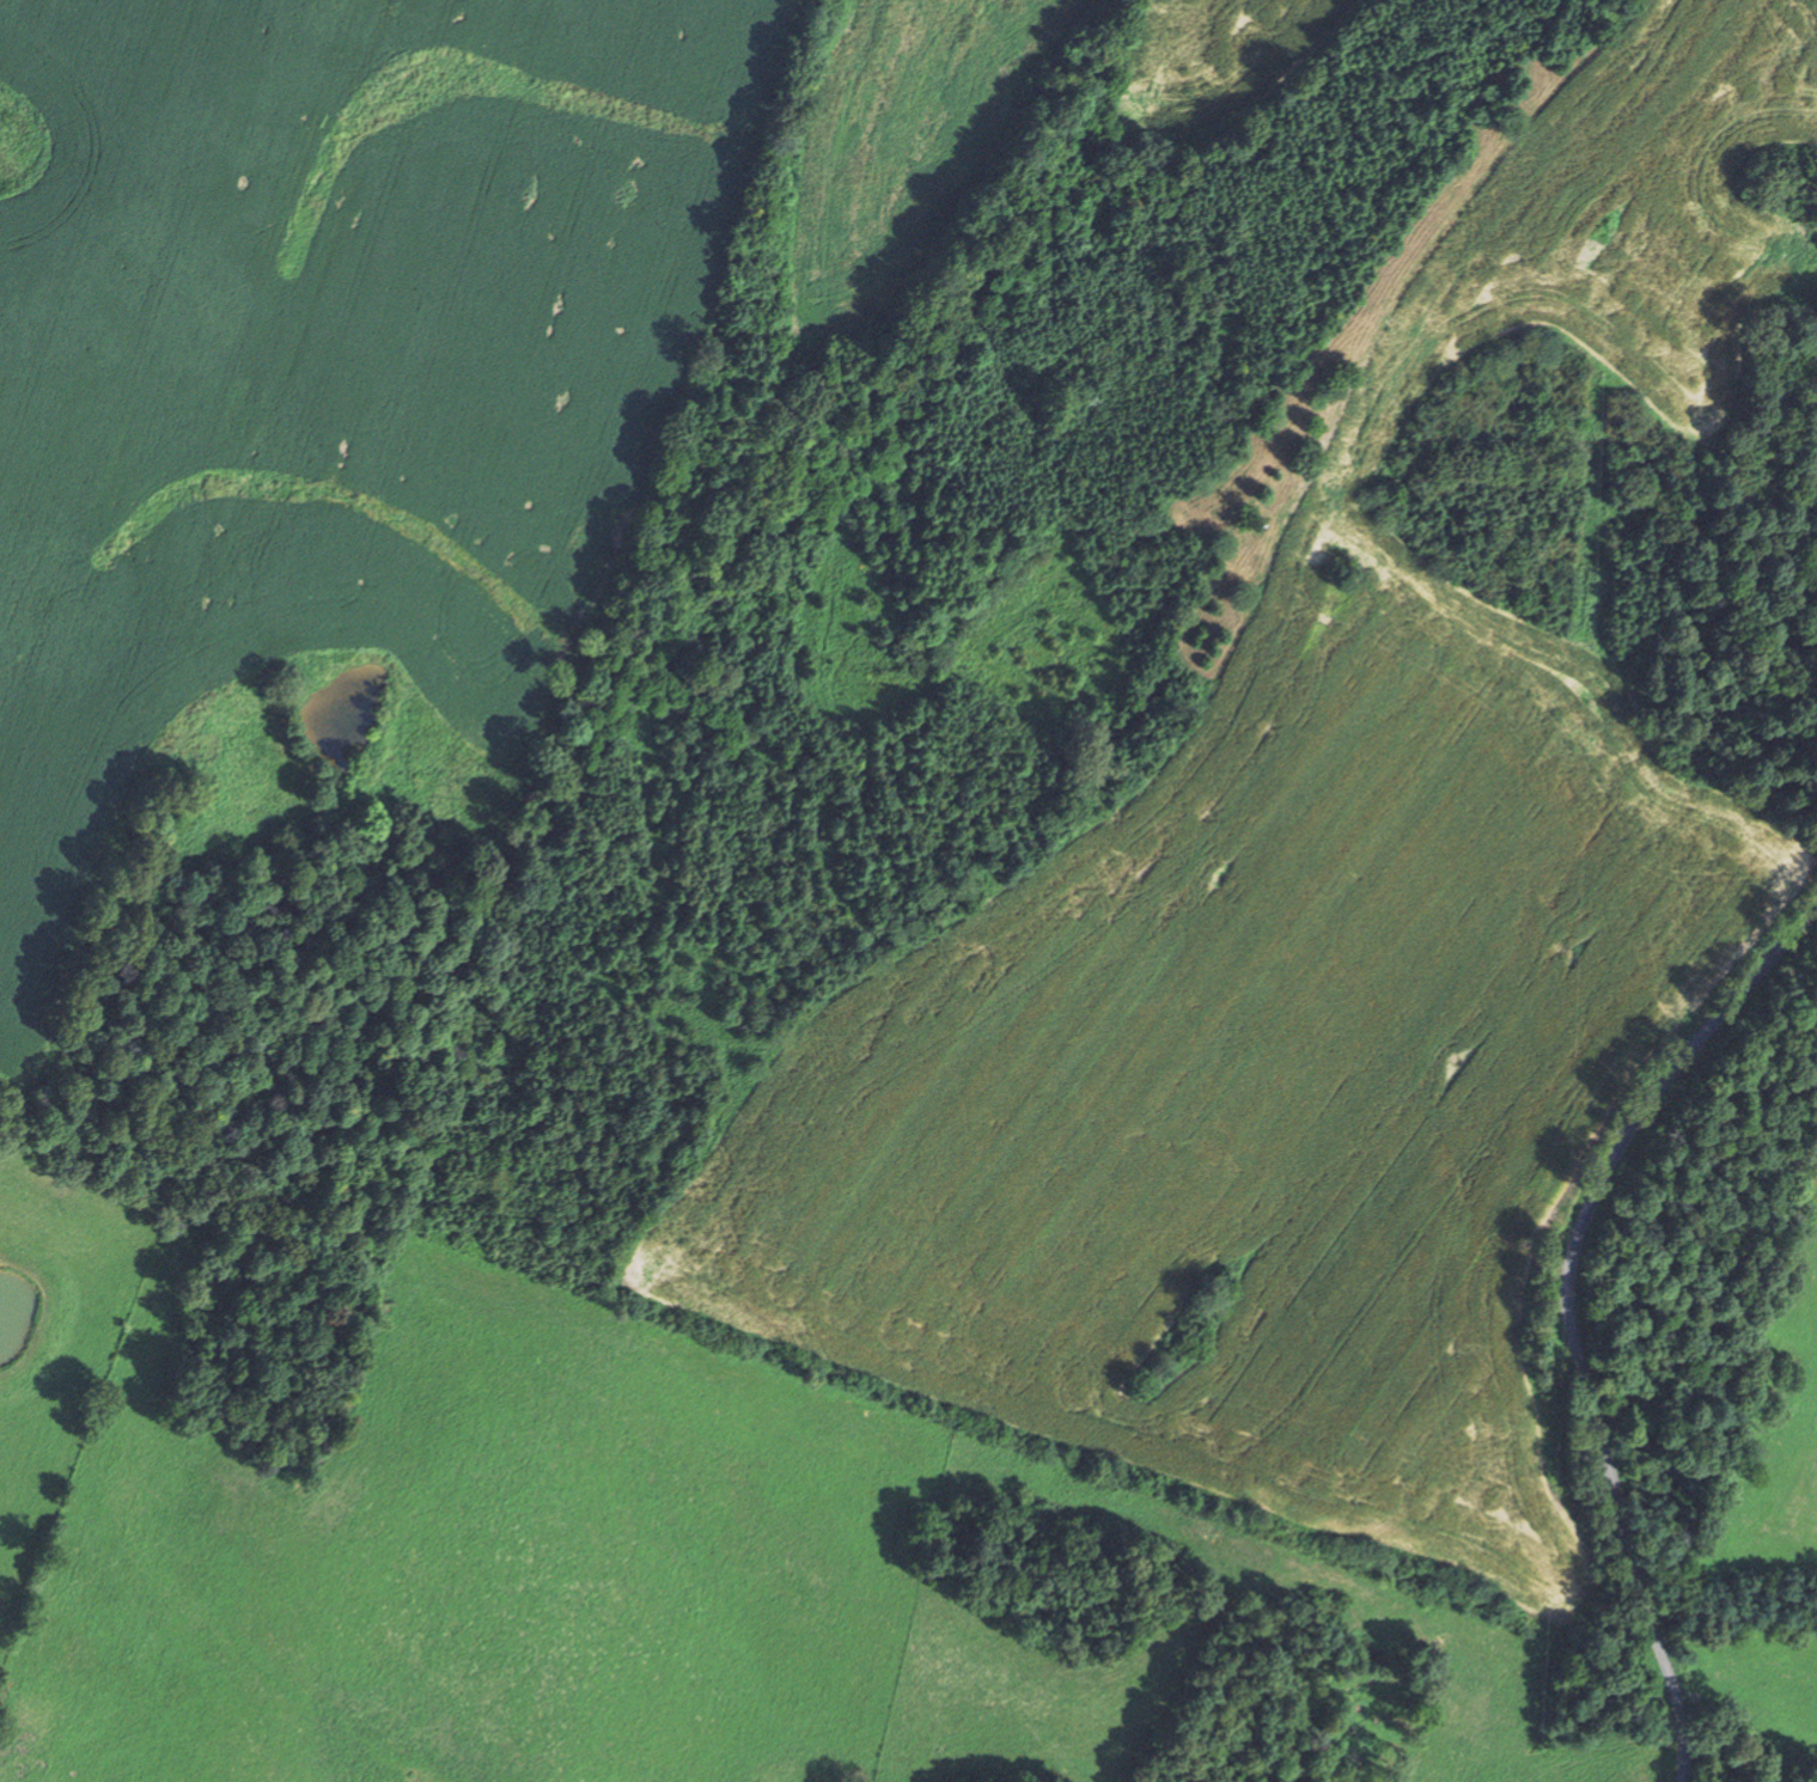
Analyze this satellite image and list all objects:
road: (1567, 1310)

